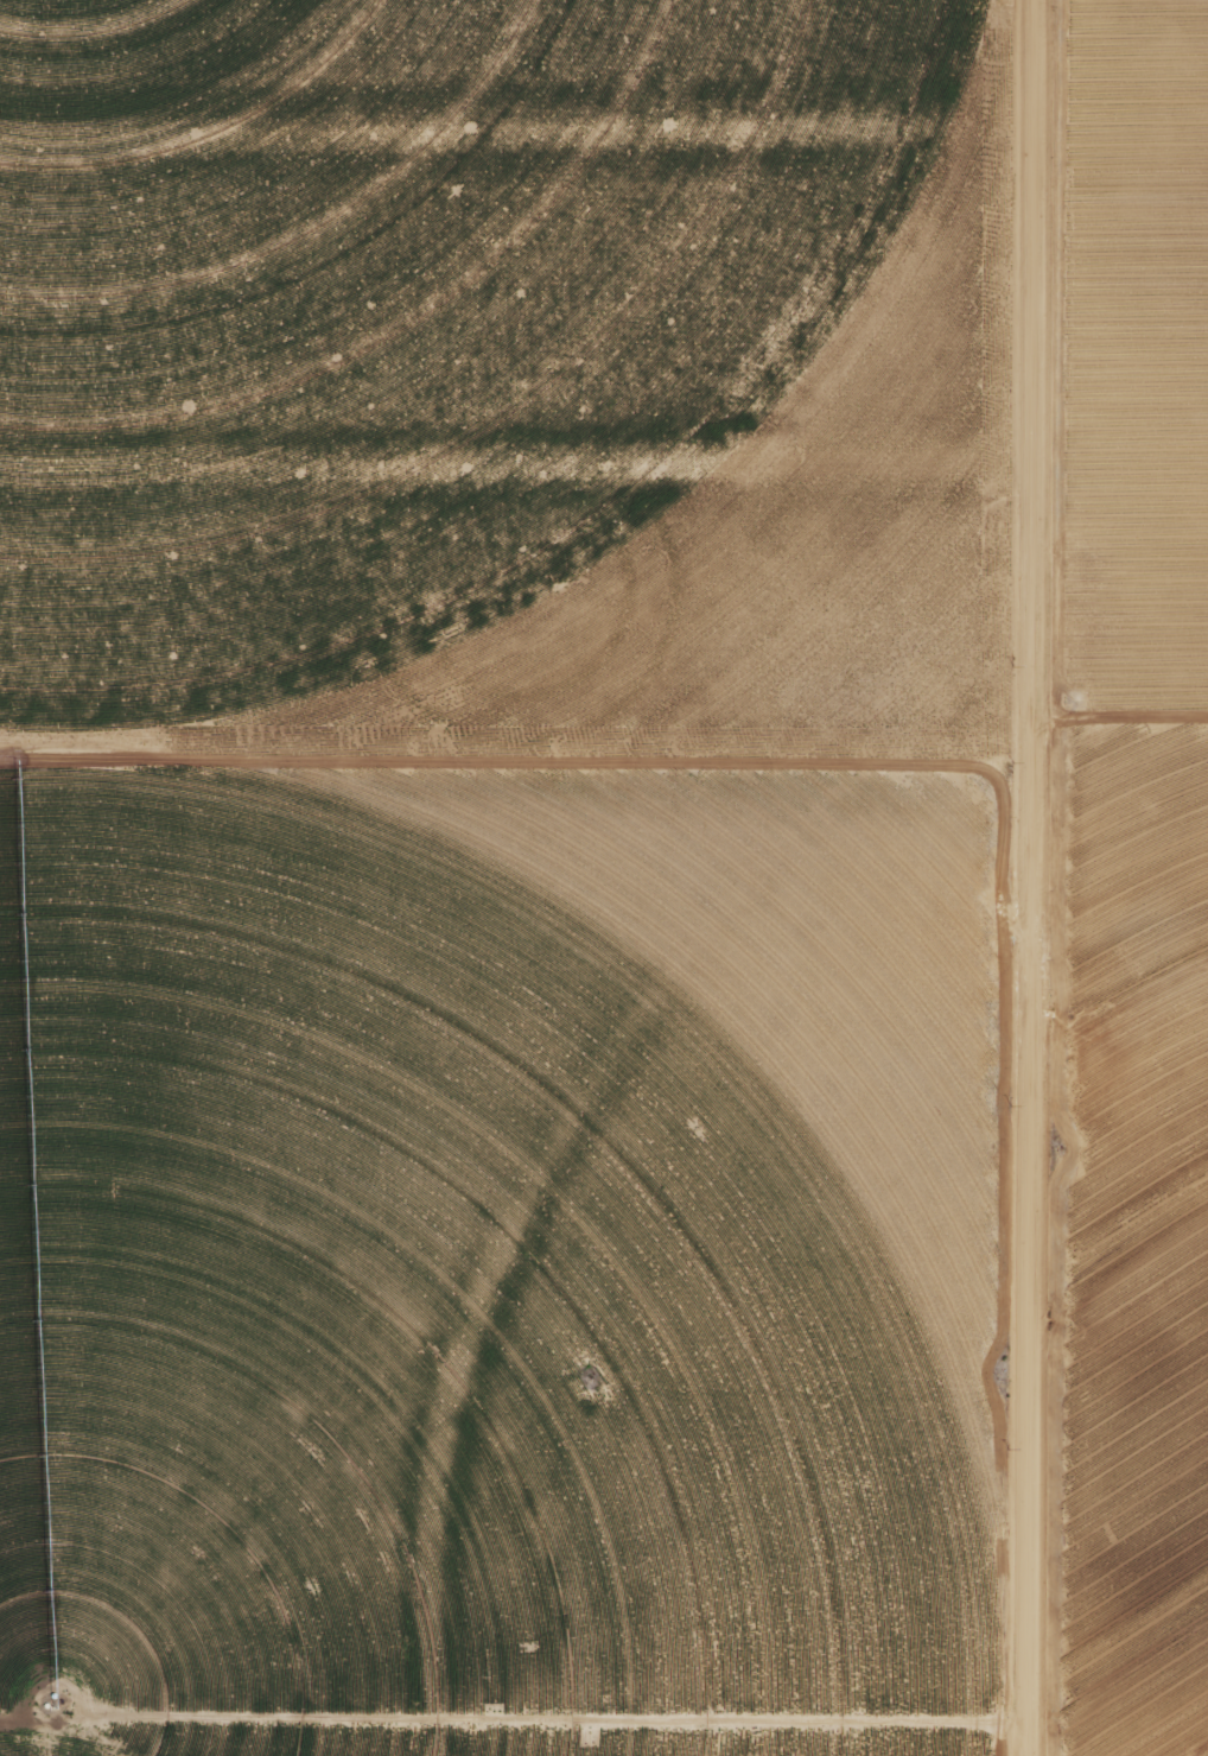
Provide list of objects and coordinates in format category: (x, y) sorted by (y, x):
road: (1009, 877)

